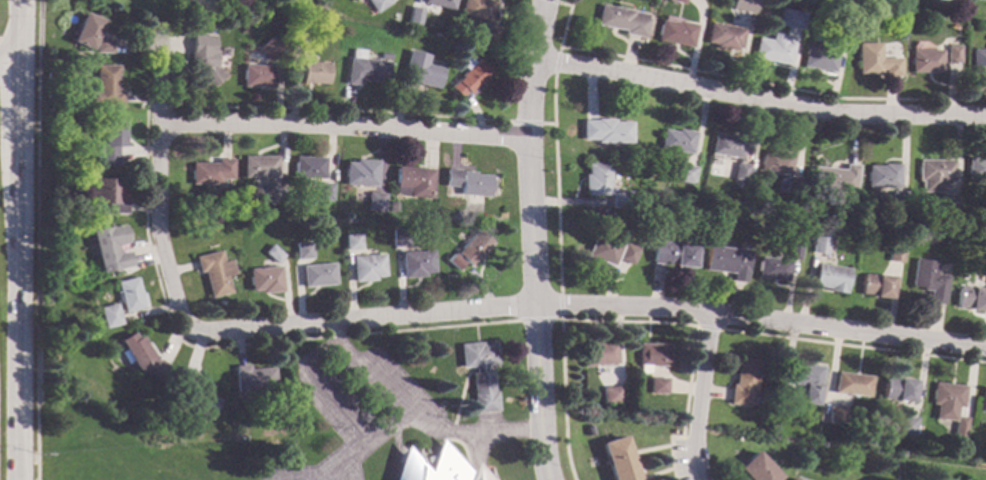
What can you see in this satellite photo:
building: (676, 1)
building: (846, 1)
building: (374, 2)
building: (441, 3)
park: (196, 5)
building: (746, 5)
building: (477, 8)
building: (415, 15)
building: (788, 17)
building: (620, 19)
road: (17, 29)
building: (85, 29)
building: (674, 32)
building: (491, 33)
building: (722, 35)
building: (211, 43)
building: (101, 45)
building: (297, 45)
building: (268, 48)
building: (771, 48)
building: (952, 54)
building: (384, 56)
building: (816, 58)
road: (8, 59)
building: (873, 60)
building: (924, 60)
building: (978, 60)
building: (365, 68)
building: (421, 70)
building: (206, 71)
building: (313, 71)
building: (257, 75)
building: (470, 77)
building: (103, 86)
road: (759, 97)
road: (17, 100)
building: (77, 119)
road: (341, 125)
building: (604, 130)
building: (675, 140)
building: (107, 142)
building: (725, 144)
building: (774, 161)
building: (259, 166)
building: (309, 167)
building: (976, 167)
building: (211, 171)
building: (739, 171)
building: (360, 172)
building: (683, 173)
building: (933, 173)
building: (882, 175)
building: (595, 178)
building: (833, 178)
building: (413, 181)
building: (468, 183)
building: (739, 184)
building: (791, 184)
building: (325, 191)
road: (157, 192)
building: (270, 192)
building: (107, 194)
building: (897, 198)
building: (618, 199)
building: (375, 201)
building: (948, 205)
building: (392, 206)
building: (659, 211)
building: (851, 228)
building: (398, 237)
road: (528, 239)
building: (949, 240)
building: (351, 241)
building: (817, 244)
building: (109, 247)
building: (472, 247)
building: (302, 250)
building: (601, 250)
building: (791, 250)
building: (272, 253)
building: (625, 253)
building: (670, 253)
building: (892, 254)
building: (725, 260)
building: (452, 261)
building: (415, 263)
building: (366, 267)
building: (770, 268)
building: (984, 268)
building: (214, 272)
building: (317, 274)
building: (829, 277)
building: (264, 279)
building: (927, 280)
building: (874, 285)
building: (127, 294)
building: (970, 298)
road: (591, 306)
road: (17, 311)
building: (107, 315)
building: (597, 353)
building: (651, 354)
building: (139, 355)
building: (479, 373)
building: (252, 379)
building: (743, 381)
building: (807, 381)
building: (853, 384)
building: (657, 385)
building: (897, 389)
building: (610, 394)
building: (193, 395)
road: (698, 396)
building: (945, 400)
building: (787, 401)
building: (983, 401)
road: (339, 411)
building: (837, 414)
road: (416, 420)
building: (904, 425)
building: (588, 430)
building: (959, 430)
building: (617, 459)
road: (353, 460)
building: (436, 467)
building: (756, 469)
building: (794, 478)

